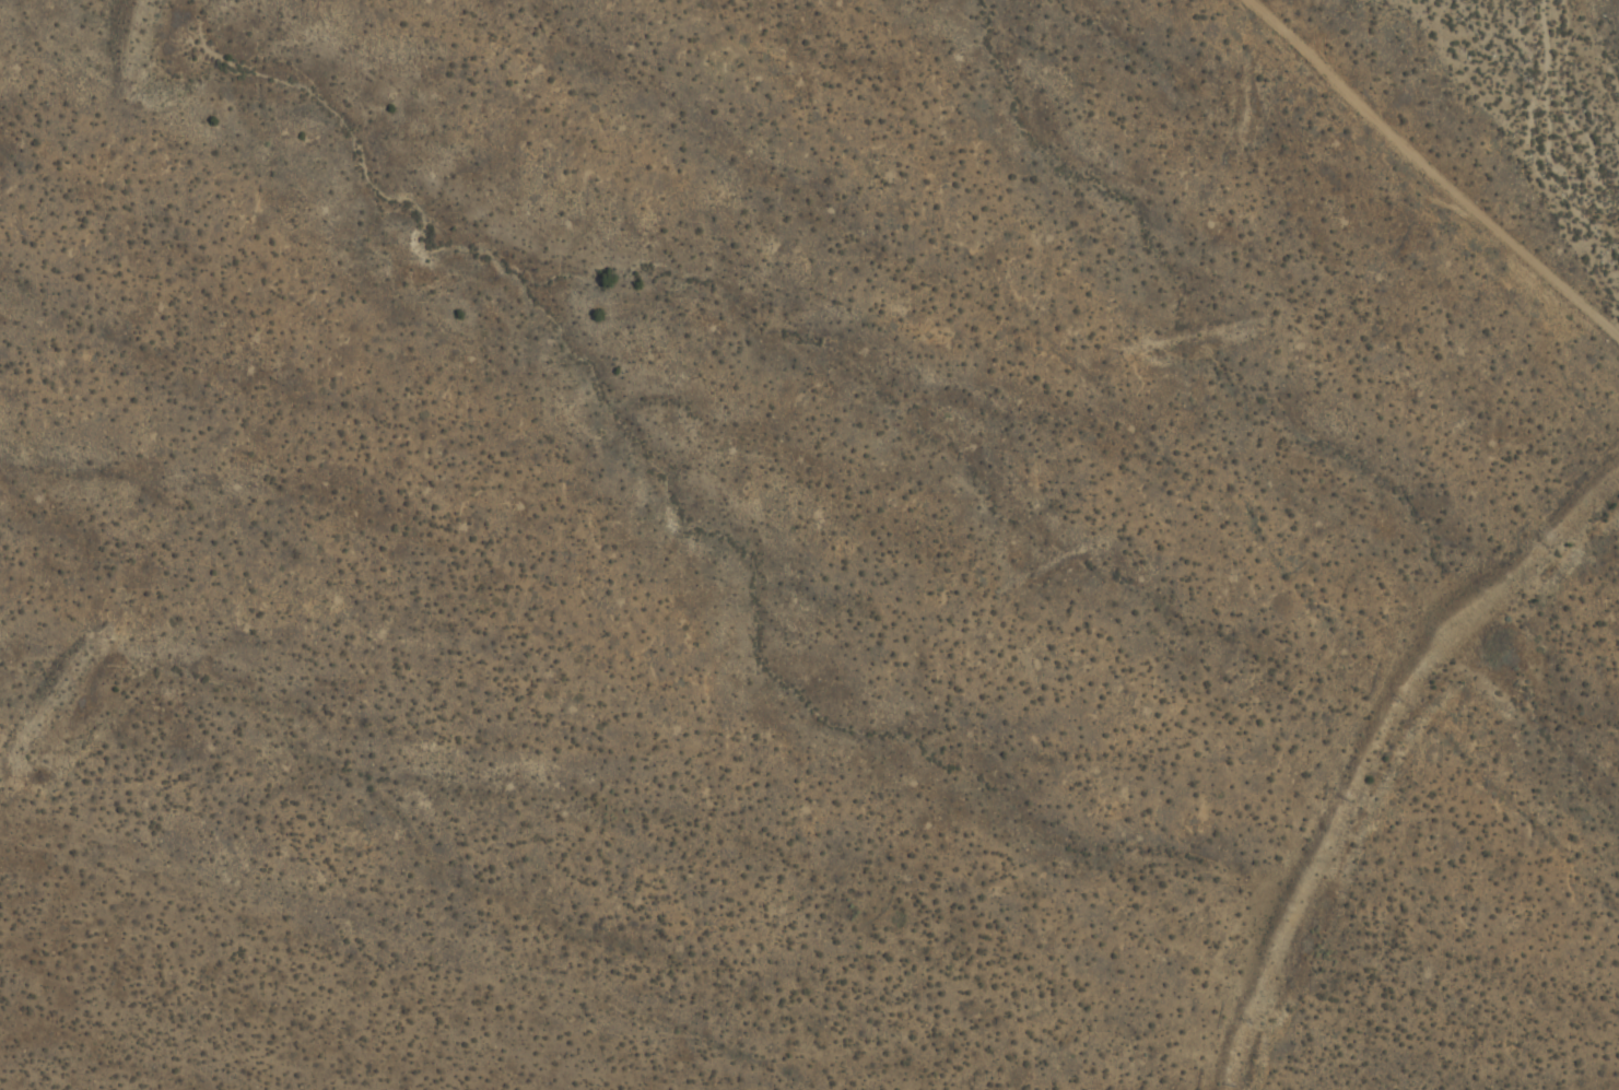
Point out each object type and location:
road: (1434, 177)

